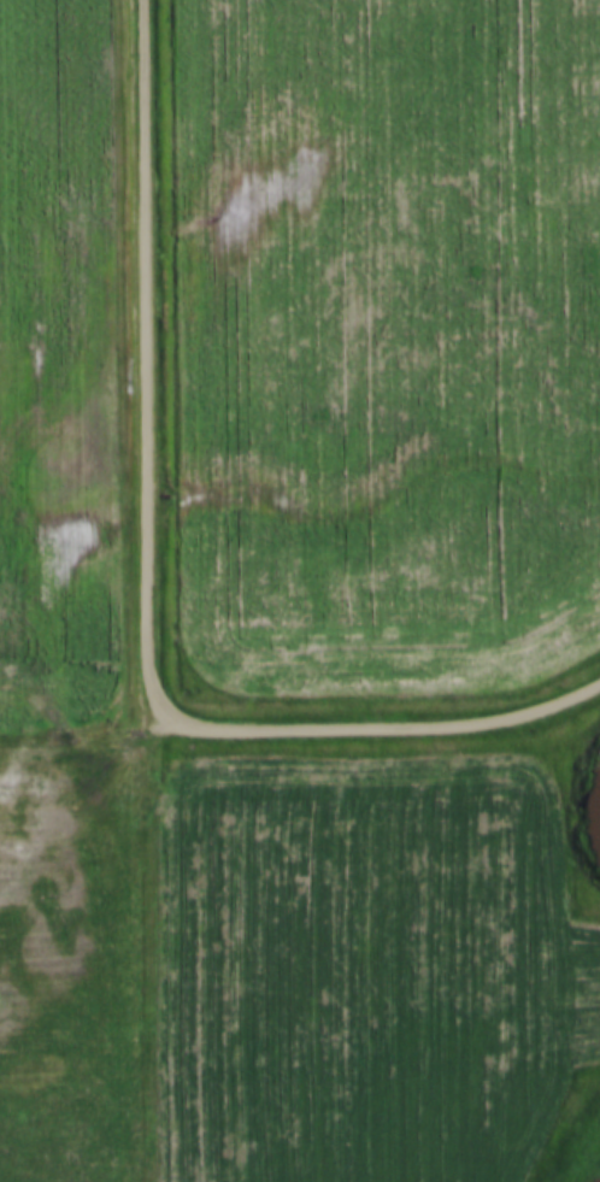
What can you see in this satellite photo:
road: (151, 578)

